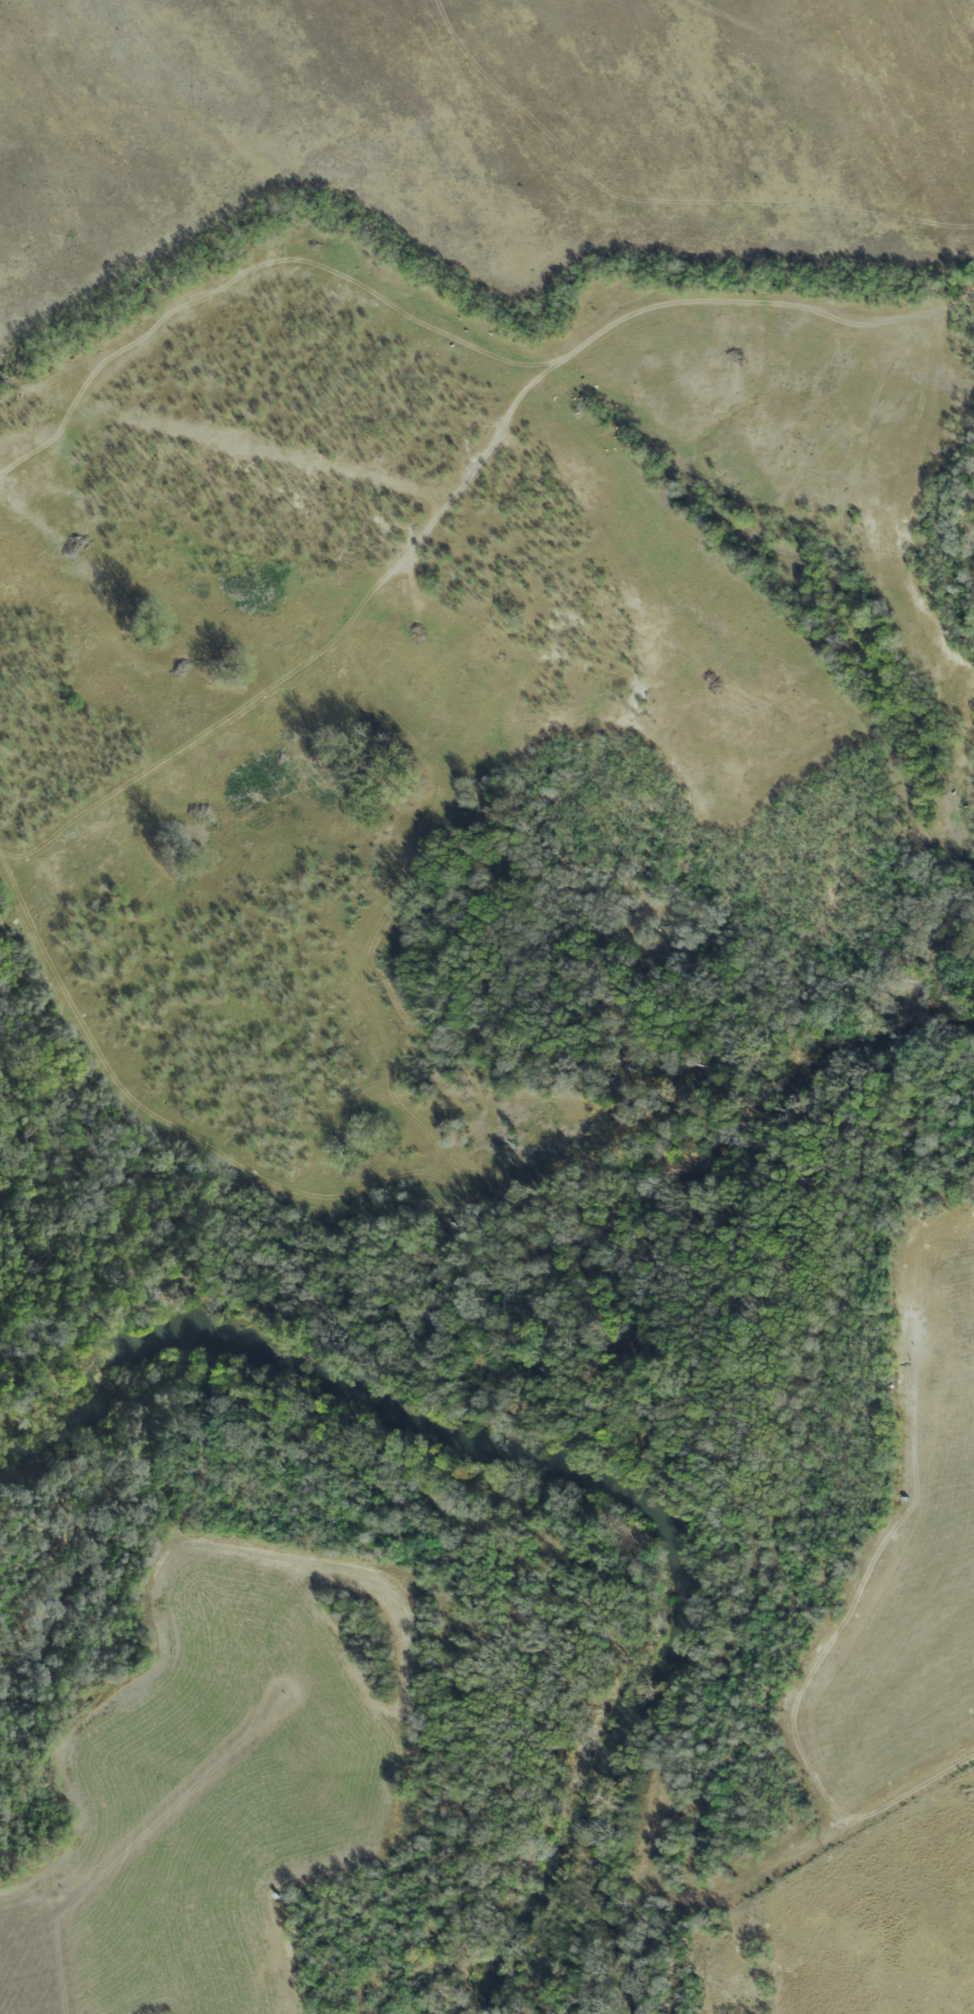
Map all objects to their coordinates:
river: (566, 1473)

